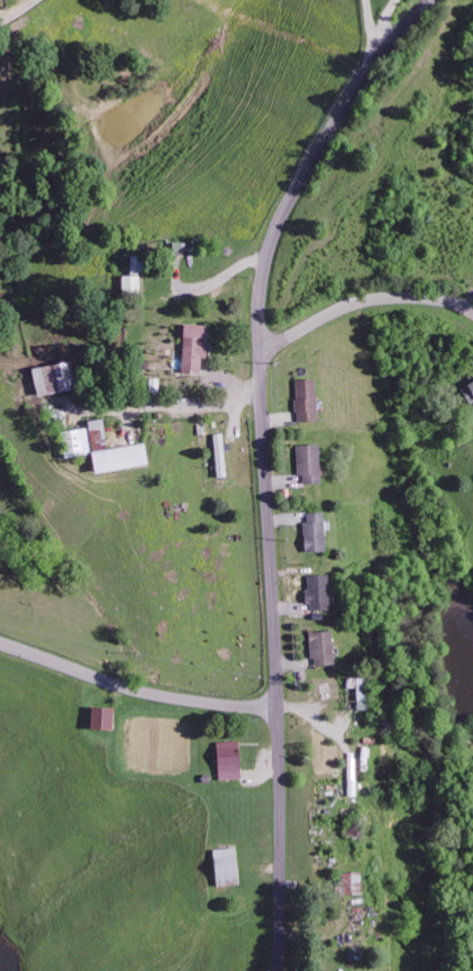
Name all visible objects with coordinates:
road: (312, 165)
building: (132, 276)
road: (358, 301)
building: (192, 346)
building: (51, 377)
building: (467, 391)
building: (305, 399)
building: (99, 448)
building: (219, 455)
building: (307, 462)
building: (313, 531)
road: (268, 535)
building: (316, 592)
building: (320, 647)
road: (135, 692)
building: (360, 693)
building: (99, 717)
building: (227, 760)
road: (279, 841)
building: (223, 867)
building: (347, 883)

